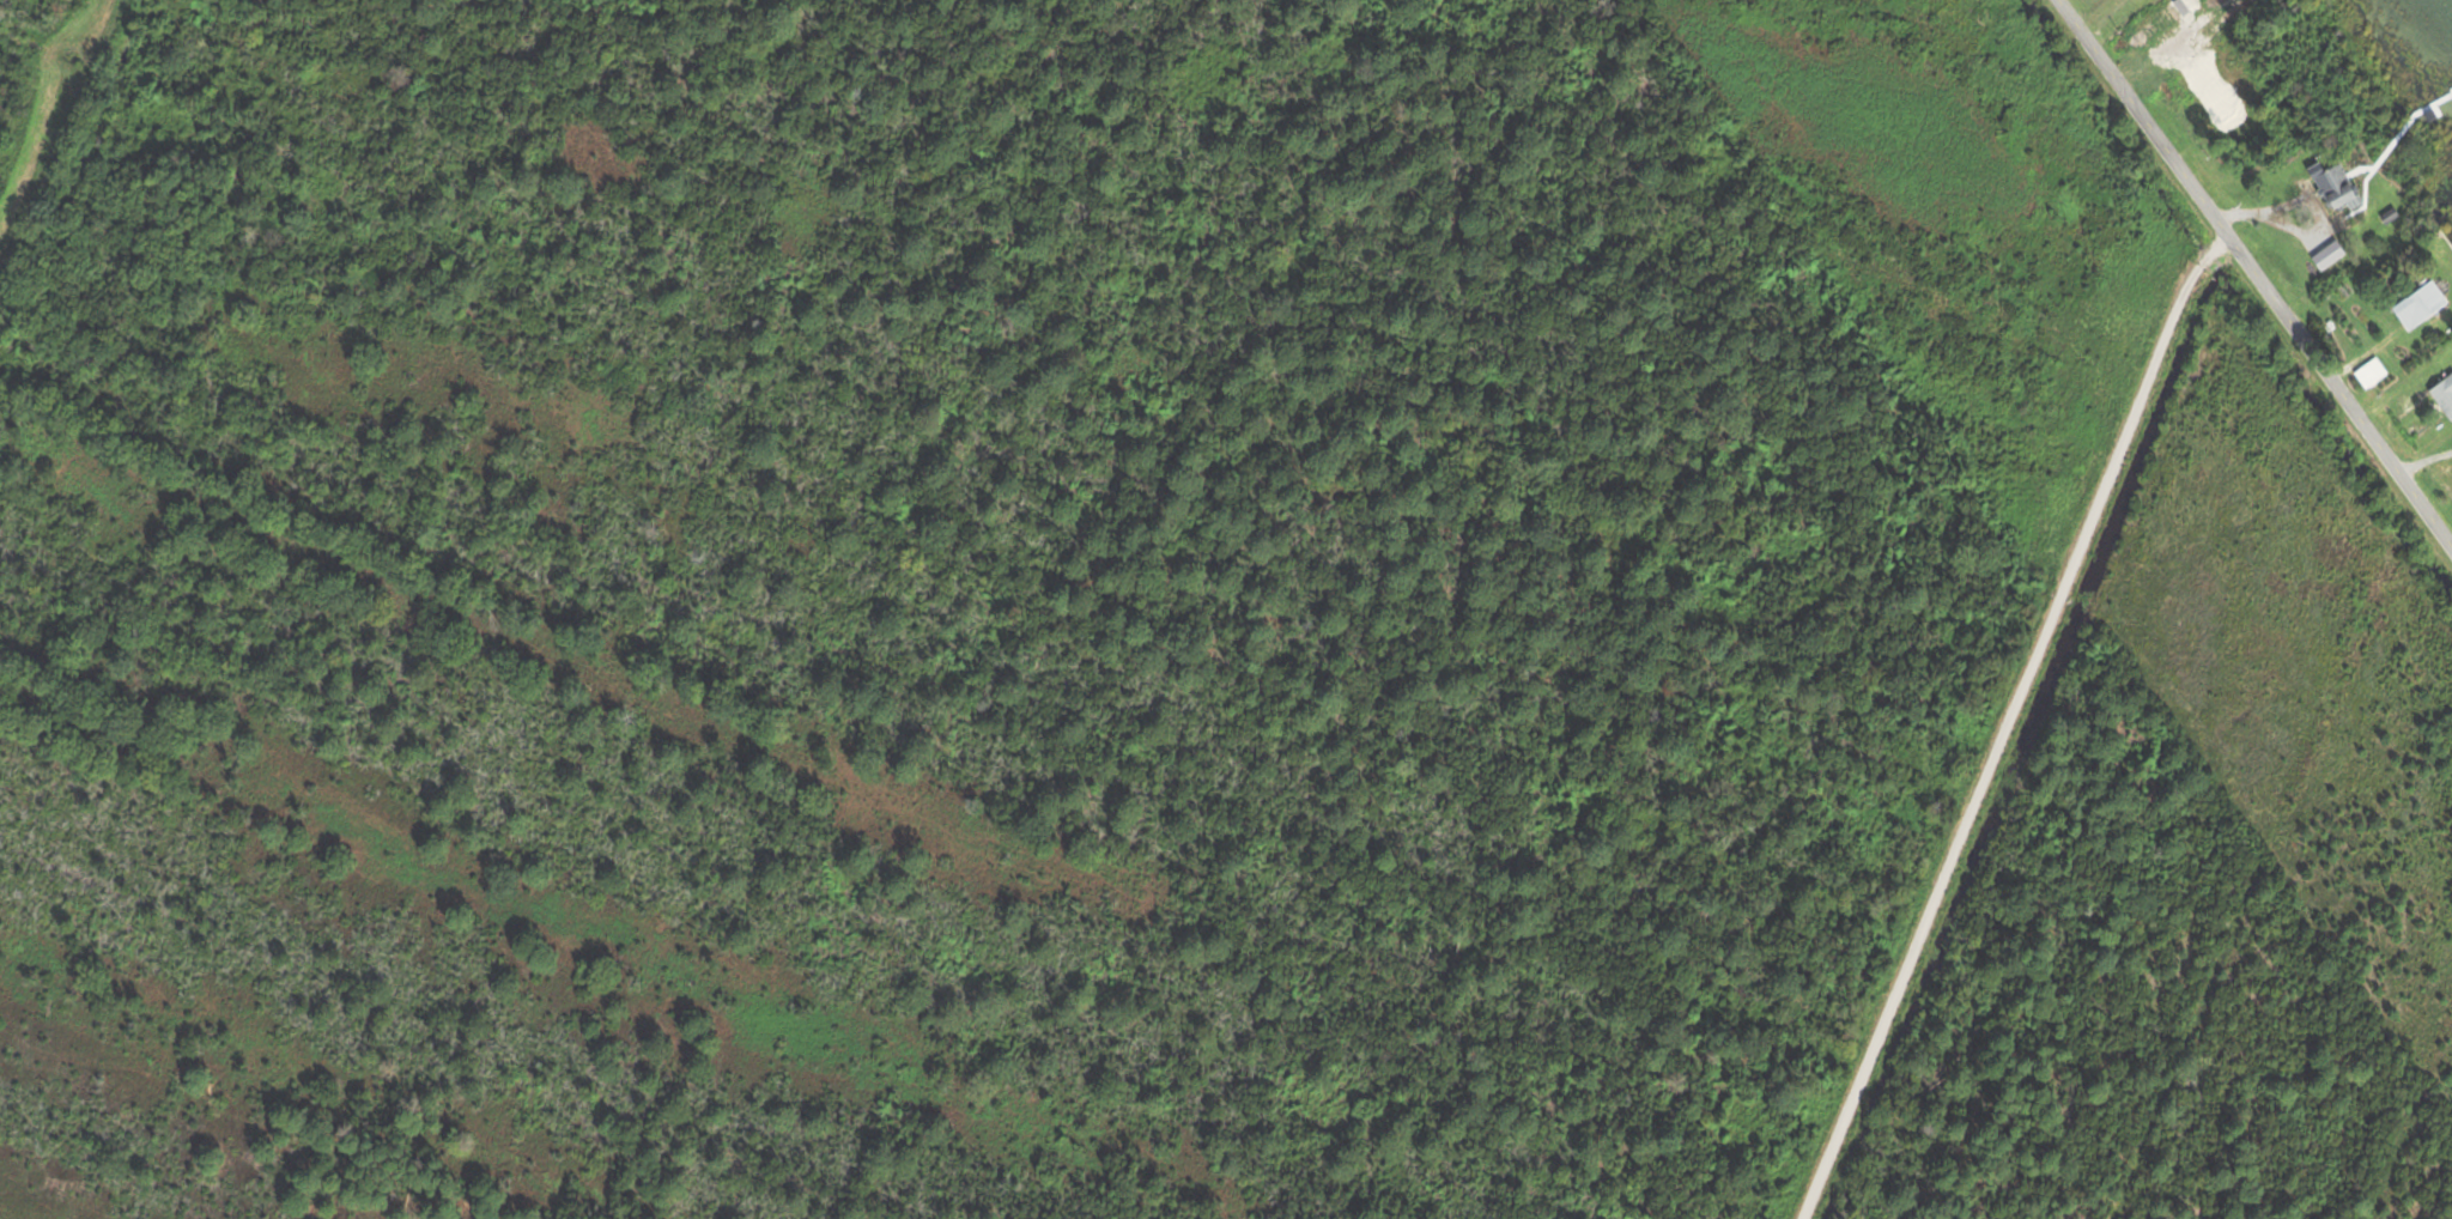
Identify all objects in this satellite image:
road: (57, 131)
building: (2332, 188)
road: (2256, 272)
building: (2416, 305)
building: (2442, 395)
road: (2008, 722)

